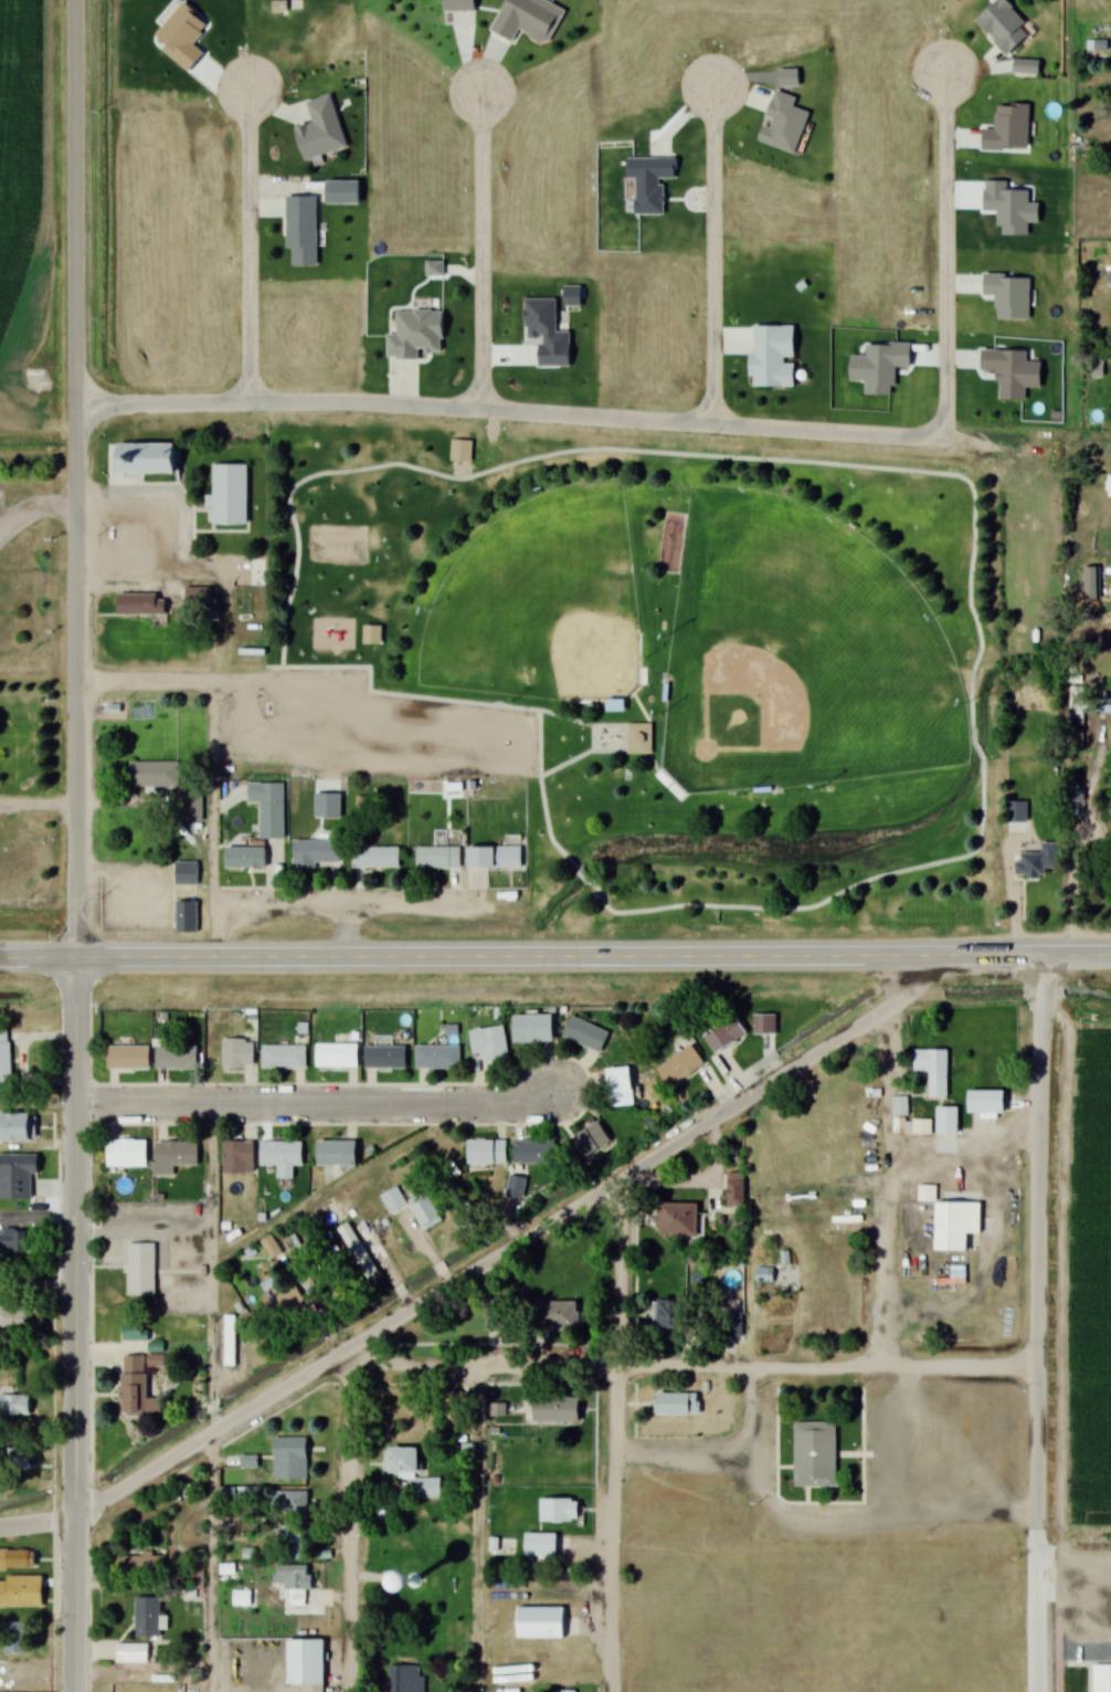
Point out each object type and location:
building: (463, 8)
building: (530, 21)
building: (1007, 29)
building: (1030, 70)
building: (786, 76)
building: (794, 82)
building: (790, 126)
building: (325, 130)
building: (653, 183)
building: (305, 234)
road: (247, 244)
road: (480, 251)
road: (712, 253)
road: (944, 253)
building: (438, 272)
building: (1013, 298)
building: (421, 337)
building: (779, 359)
building: (1097, 367)
road: (509, 411)
road: (666, 452)
building: (465, 454)
building: (150, 461)
road: (74, 479)
building: (234, 501)
building: (1091, 584)
building: (198, 596)
building: (145, 602)
park: (541, 602)
building: (375, 638)
park: (666, 641)
park: (801, 651)
road: (225, 656)
road: (147, 682)
building: (614, 705)
road: (518, 707)
parking lot: (363, 726)
building: (643, 740)
road: (543, 742)
road: (516, 750)
road: (982, 752)
building: (159, 779)
building: (476, 786)
building: (271, 796)
building: (191, 807)
building: (331, 809)
building: (277, 826)
building: (319, 853)
building: (380, 860)
building: (445, 860)
building: (499, 860)
building: (1036, 861)
building: (250, 863)
road: (583, 872)
building: (189, 875)
road: (825, 900)
road: (357, 903)
building: (191, 919)
road: (349, 931)
road: (555, 957)
traffic signals: (76, 958)
building: (763, 1024)
building: (533, 1029)
building: (723, 1033)
building: (584, 1034)
building: (489, 1043)
building: (237, 1053)
building: (4, 1055)
building: (336, 1055)
building: (127, 1057)
building: (176, 1057)
building: (436, 1057)
building: (284, 1058)
building: (384, 1058)
building: (679, 1066)
building: (931, 1066)
building: (618, 1086)
road: (318, 1102)
building: (990, 1102)
building: (907, 1120)
building: (18, 1128)
building: (945, 1129)
building: (590, 1139)
road: (965, 1150)
building: (486, 1152)
building: (533, 1152)
building: (126, 1154)
building: (336, 1154)
building: (173, 1157)
building: (237, 1157)
building: (282, 1157)
road: (1039, 1160)
building: (17, 1176)
building: (516, 1187)
road: (892, 1187)
building: (734, 1189)
building: (392, 1200)
building: (425, 1211)
building: (676, 1220)
road: (145, 1221)
building: (953, 1222)
building: (13, 1241)
road: (519, 1248)
building: (146, 1273)
building: (13, 1313)
building: (555, 1315)
building: (667, 1315)
building: (731, 1324)
road: (74, 1325)
building: (229, 1341)
road: (685, 1365)
building: (136, 1386)
road: (211, 1397)
building: (14, 1405)
building: (553, 1408)
building: (680, 1409)
road: (617, 1438)
road: (909, 1443)
road: (690, 1451)
building: (289, 1459)
building: (821, 1461)
building: (413, 1473)
building: (288, 1502)
building: (558, 1511)
road: (827, 1520)
road: (38, 1522)
road: (349, 1527)
road: (482, 1527)
road: (1038, 1528)
building: (288, 1542)
building: (546, 1546)
building: (17, 1560)
building: (140, 1563)
building: (293, 1576)
park: (417, 1576)
water tower: (423, 1587)
building: (21, 1593)
building: (147, 1618)
building: (546, 1623)
building: (15, 1641)
building: (133, 1653)
building: (532, 1658)
building: (306, 1664)
building: (20, 1670)
building: (1100, 1677)
building: (404, 1679)
building: (565, 1691)

